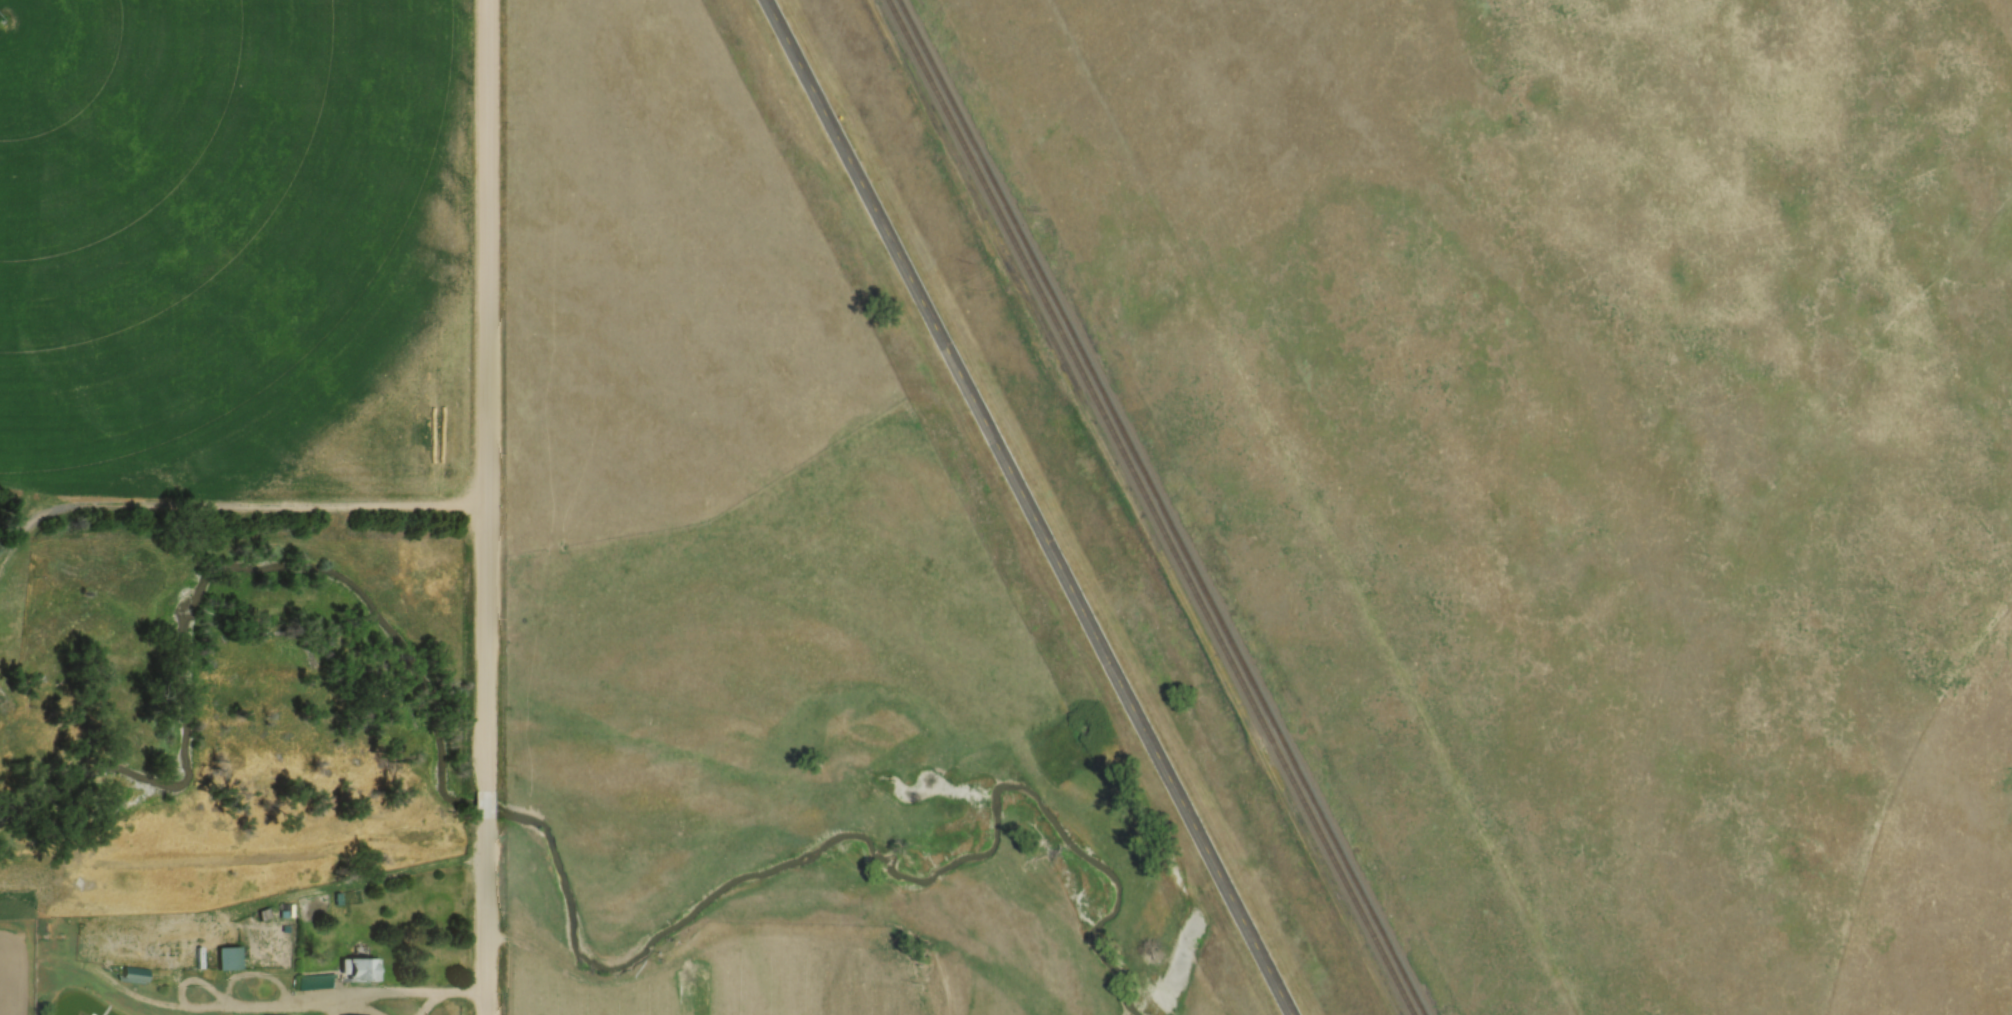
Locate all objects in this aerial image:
crop: (236, 245)
road: (491, 395)
road: (225, 503)
road: (1033, 507)
railway: (1152, 507)
railway: (1164, 507)
road: (488, 804)
road: (210, 914)
road: (488, 916)
building: (229, 958)
building: (358, 969)
crop: (755, 971)
building: (135, 973)
building: (318, 979)
road: (365, 992)
road: (343, 1004)
building: (285, 1014)

